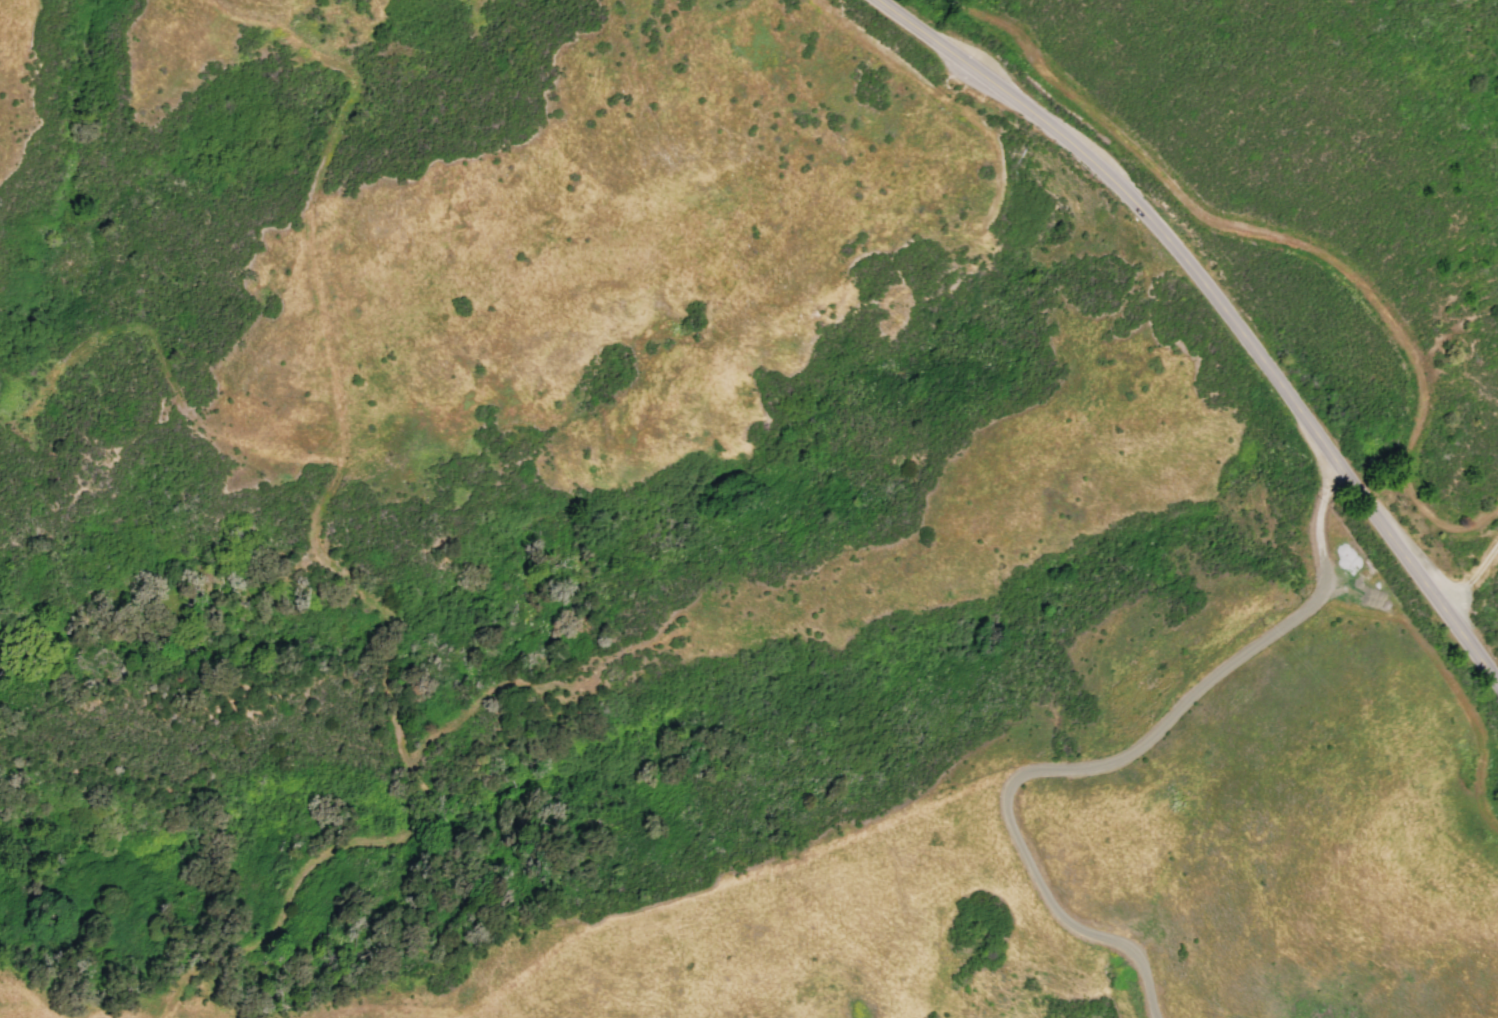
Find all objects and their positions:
road: (945, 89)
road: (304, 231)
road: (1298, 238)
road: (1220, 310)
road: (172, 371)
road: (1469, 571)
road: (1107, 763)
road: (389, 811)
road: (669, 905)
road: (37, 1011)

